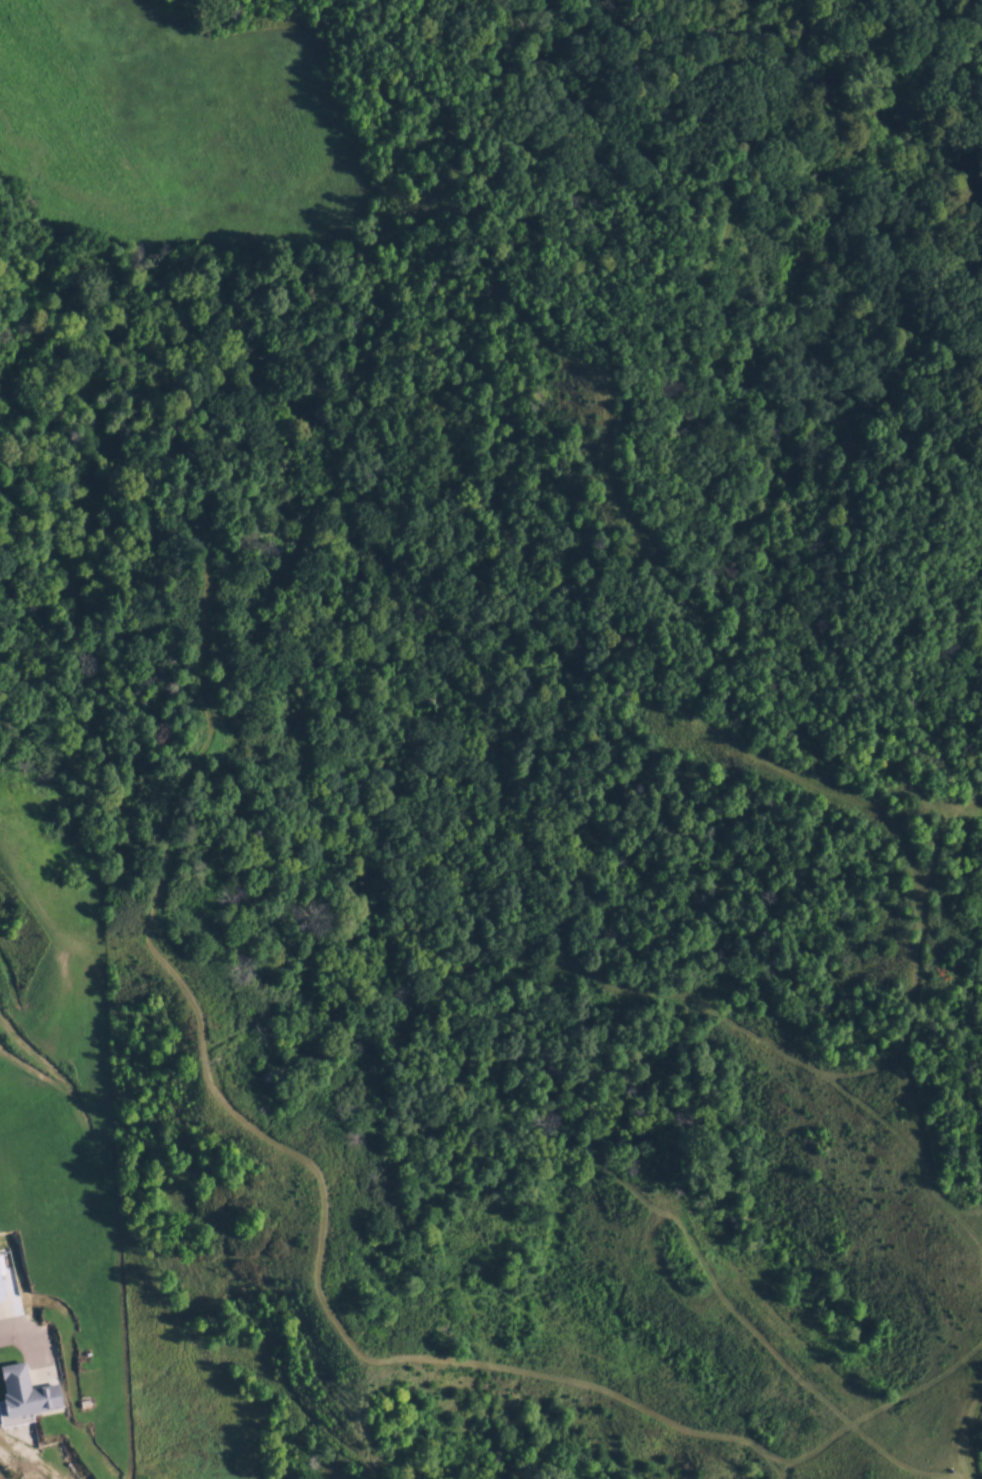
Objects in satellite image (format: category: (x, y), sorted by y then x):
building: (1, 1288)
road: (17, 1336)
building: (27, 1391)

